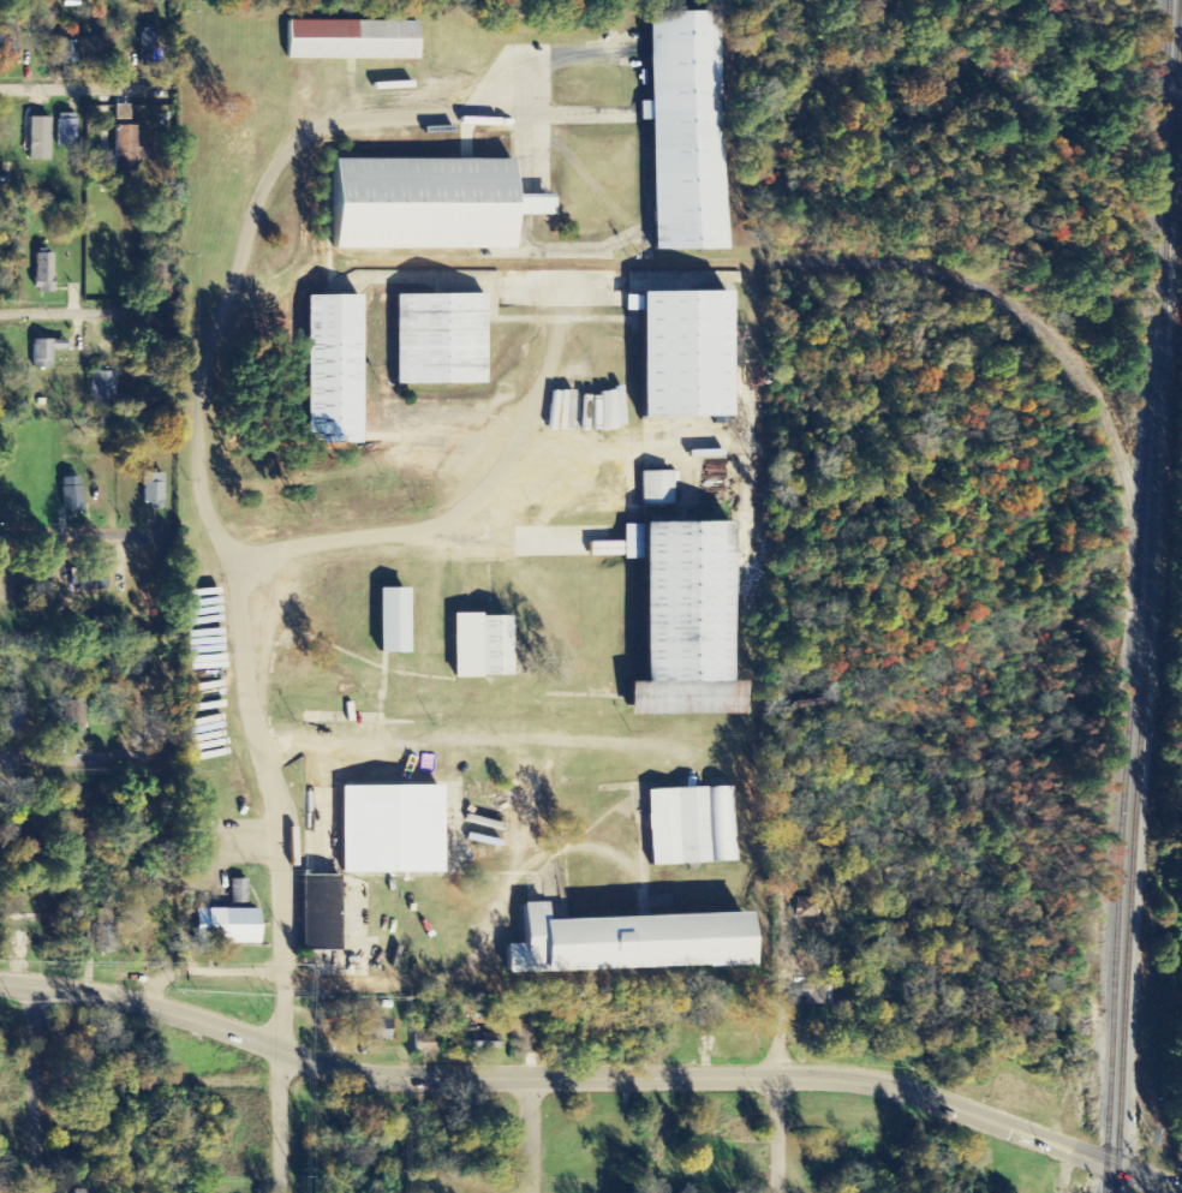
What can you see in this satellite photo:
building: (350, 41)
building: (149, 43)
building: (67, 54)
road: (85, 88)
building: (123, 113)
building: (688, 130)
building: (67, 131)
building: (38, 139)
building: (126, 151)
building: (429, 201)
railway: (843, 261)
building: (43, 273)
road: (83, 312)
building: (440, 335)
building: (685, 350)
building: (43, 352)
building: (333, 365)
building: (101, 387)
building: (653, 488)
building: (153, 489)
building: (70, 494)
road: (79, 535)
building: (90, 581)
railway: (1136, 596)
railway: (1147, 596)
building: (393, 618)
building: (687, 619)
building: (480, 643)
building: (14, 712)
road: (70, 760)
road: (275, 804)
building: (692, 823)
building: (390, 827)
building: (237, 891)
building: (316, 913)
building: (221, 926)
building: (103, 940)
building: (628, 940)
road: (781, 979)
building: (818, 994)
road: (142, 1004)
building: (371, 1030)
building: (480, 1040)
building: (425, 1043)
road: (696, 1076)
road: (157, 1086)
road: (36, 1090)
road: (529, 1104)
road: (277, 1121)
road: (777, 1134)
road: (1065, 1171)
road: (1142, 1175)
building: (84, 1192)

